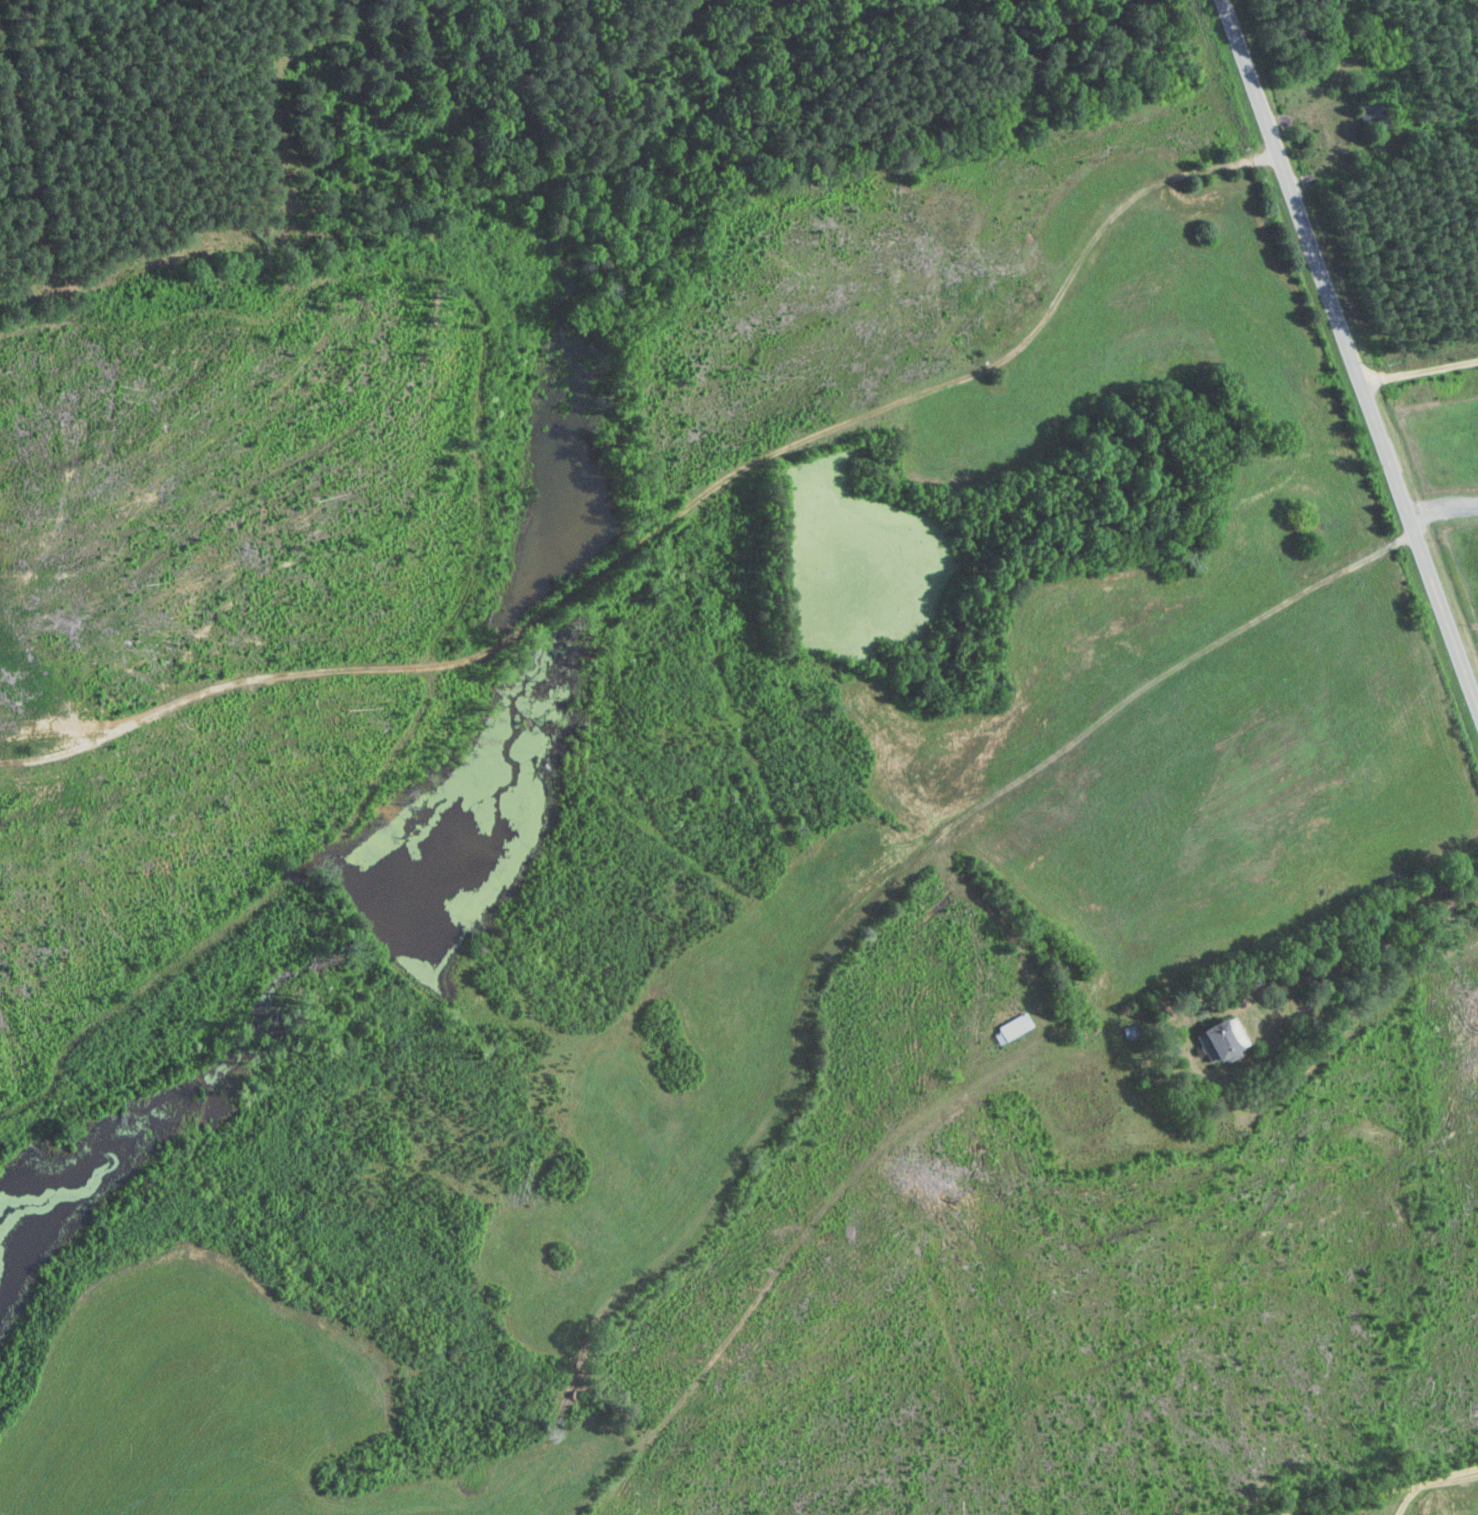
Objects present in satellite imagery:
building: (1371, 113)
road: (1350, 351)
road: (1420, 372)
road: (1381, 969)
building: (1010, 1029)
building: (1217, 1040)
road: (1422, 1471)

